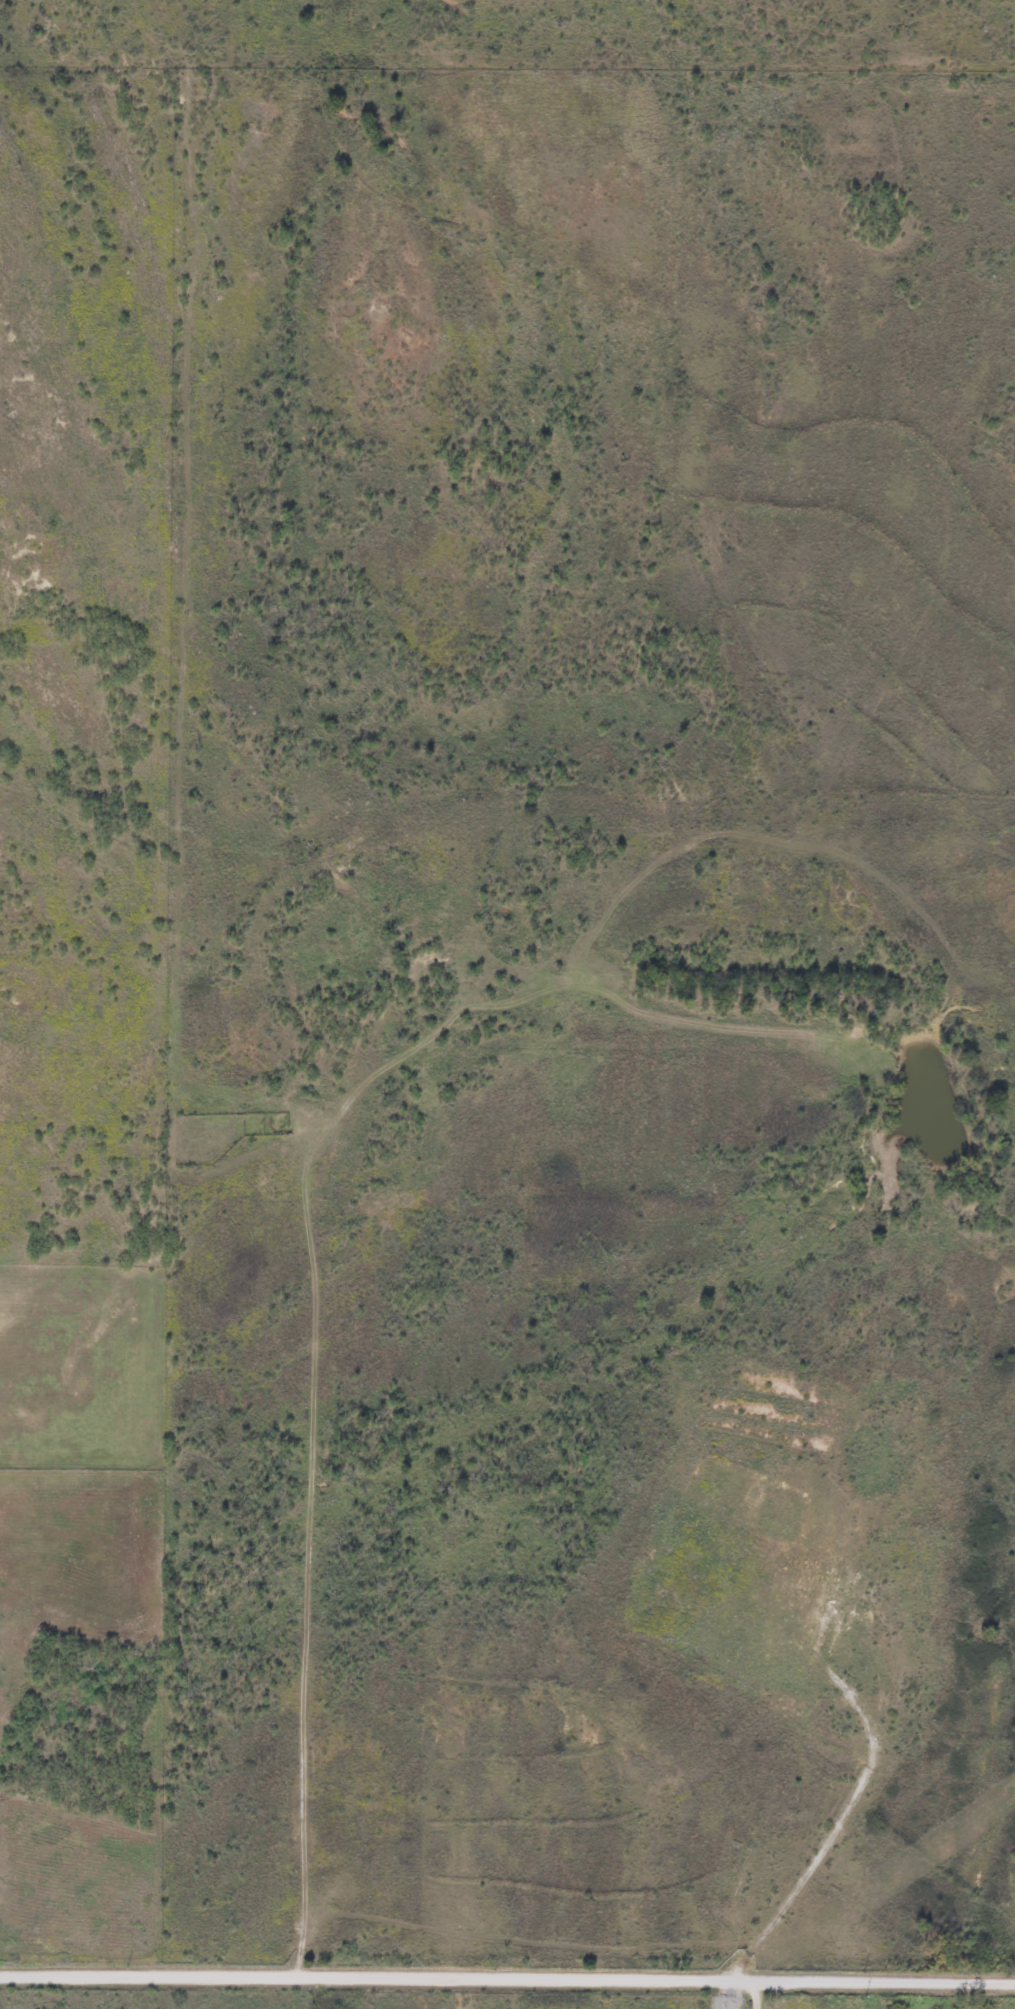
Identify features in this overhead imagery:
road: (507, 1979)

